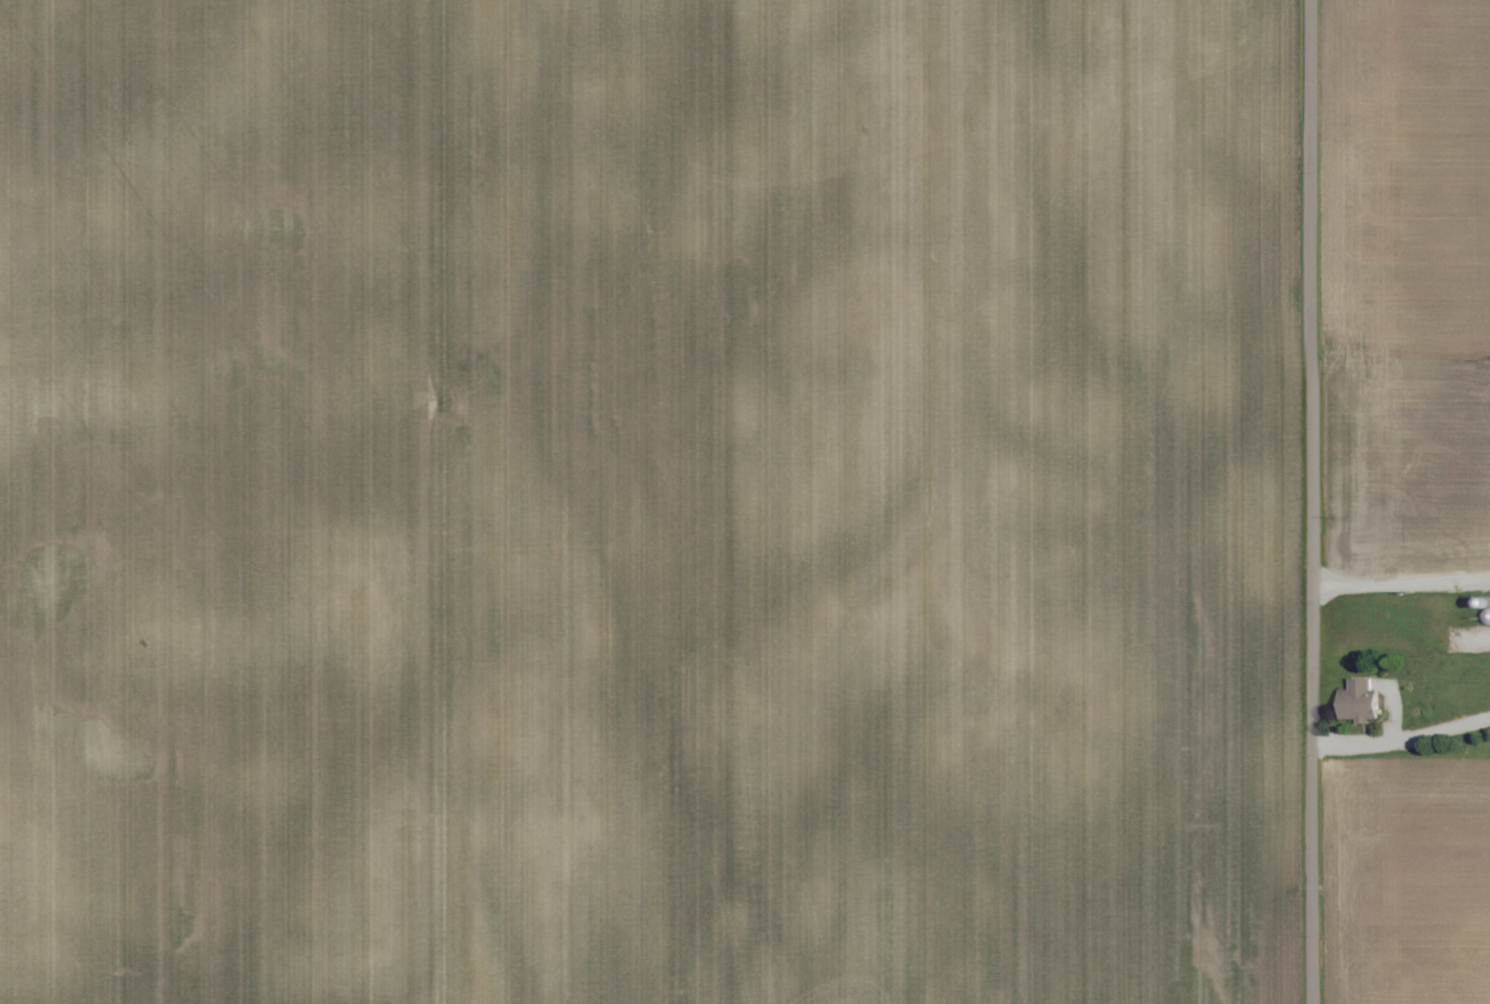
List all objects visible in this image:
road: (1313, 502)
road: (1401, 583)
building: (1363, 699)
road: (1402, 737)

